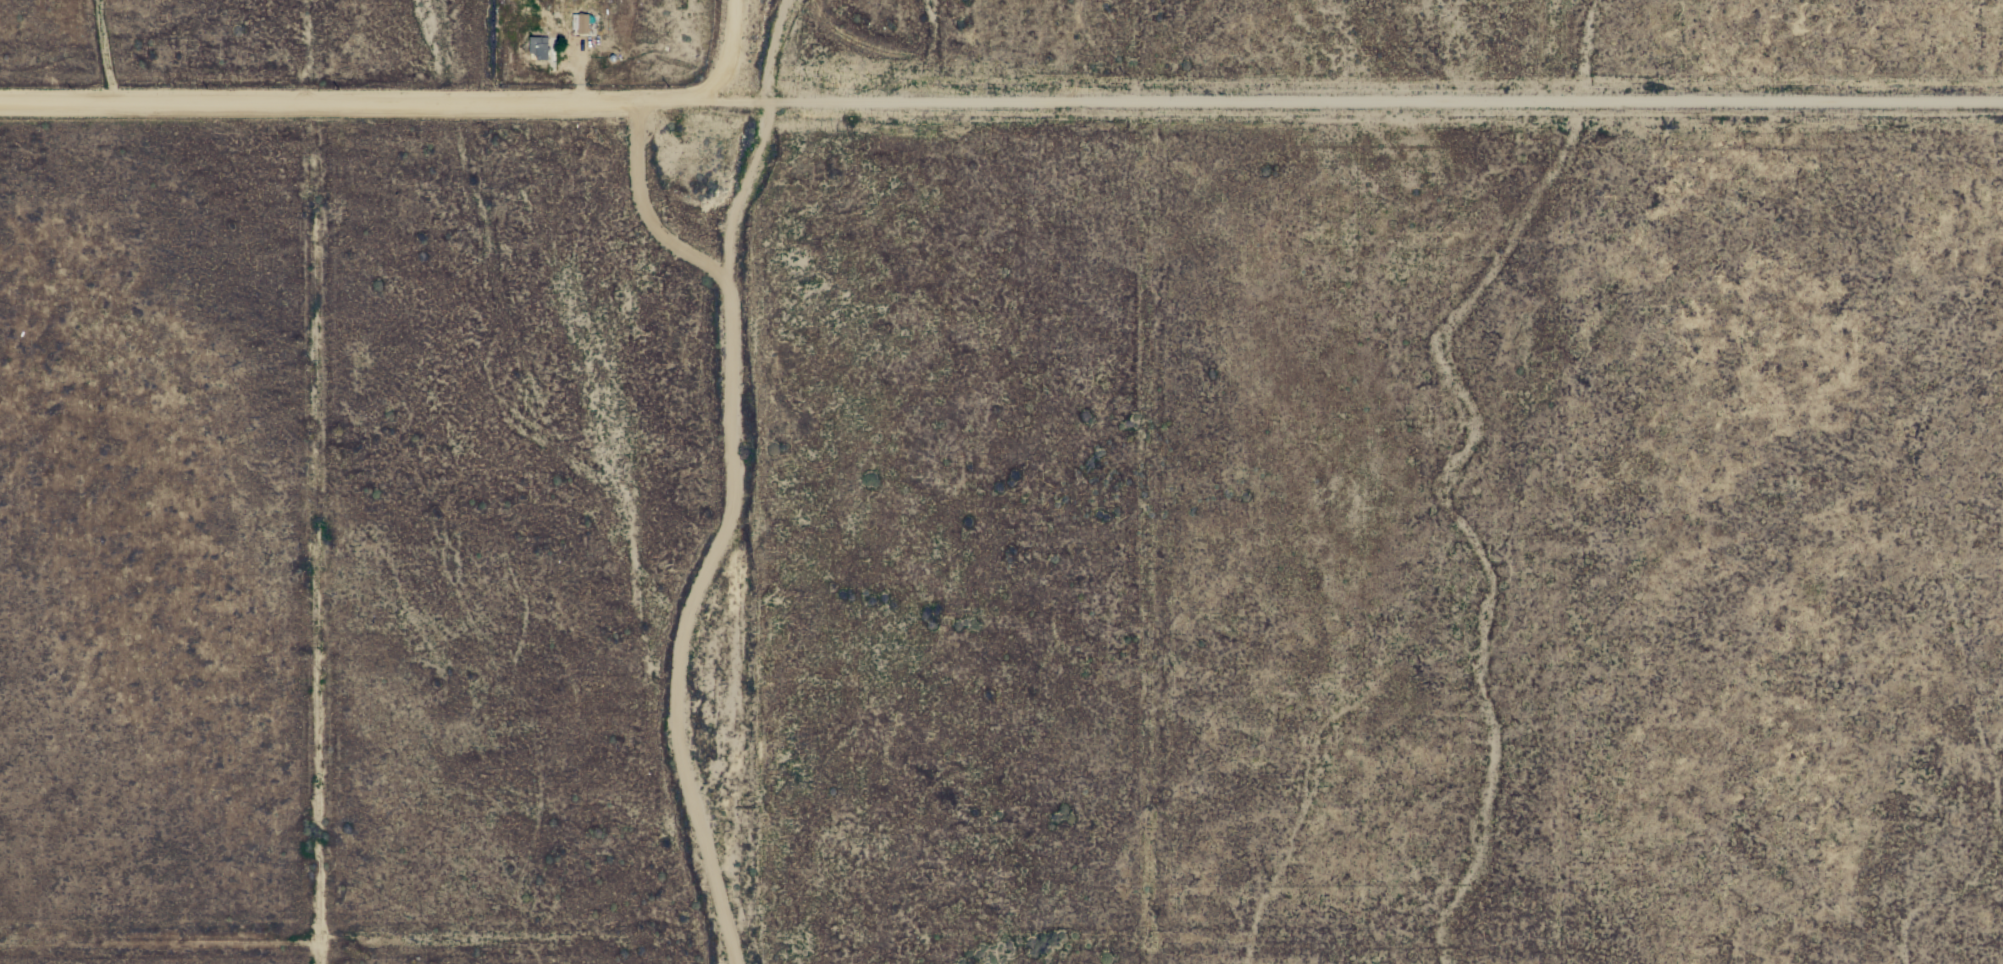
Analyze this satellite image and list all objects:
building: (580, 23)
building: (541, 48)
road: (579, 100)
road: (1364, 103)
road: (642, 207)
road: (1719, 481)
road: (725, 482)
road: (1283, 482)
road: (316, 532)
road: (855, 814)

